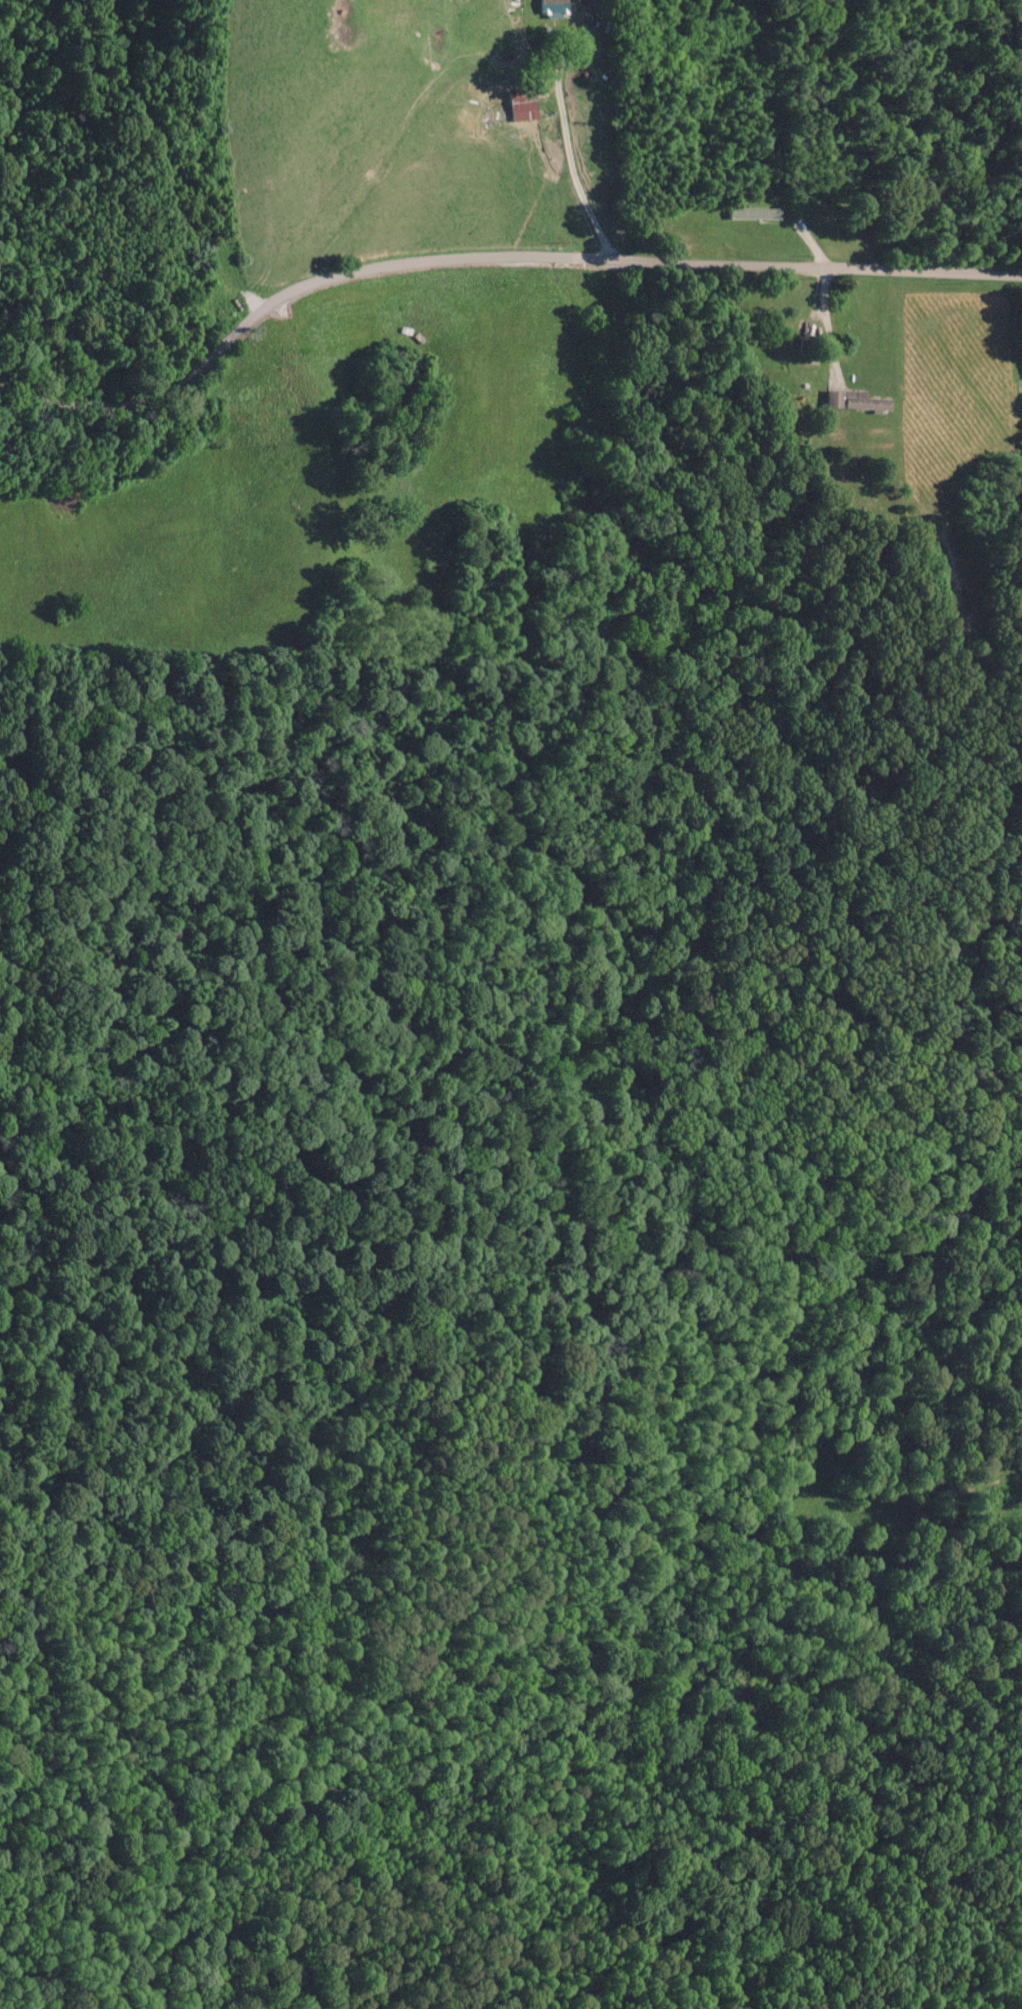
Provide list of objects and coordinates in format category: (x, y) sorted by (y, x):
building: (592, 5)
building: (553, 8)
building: (512, 107)
building: (753, 214)
road: (488, 254)
building: (853, 402)

